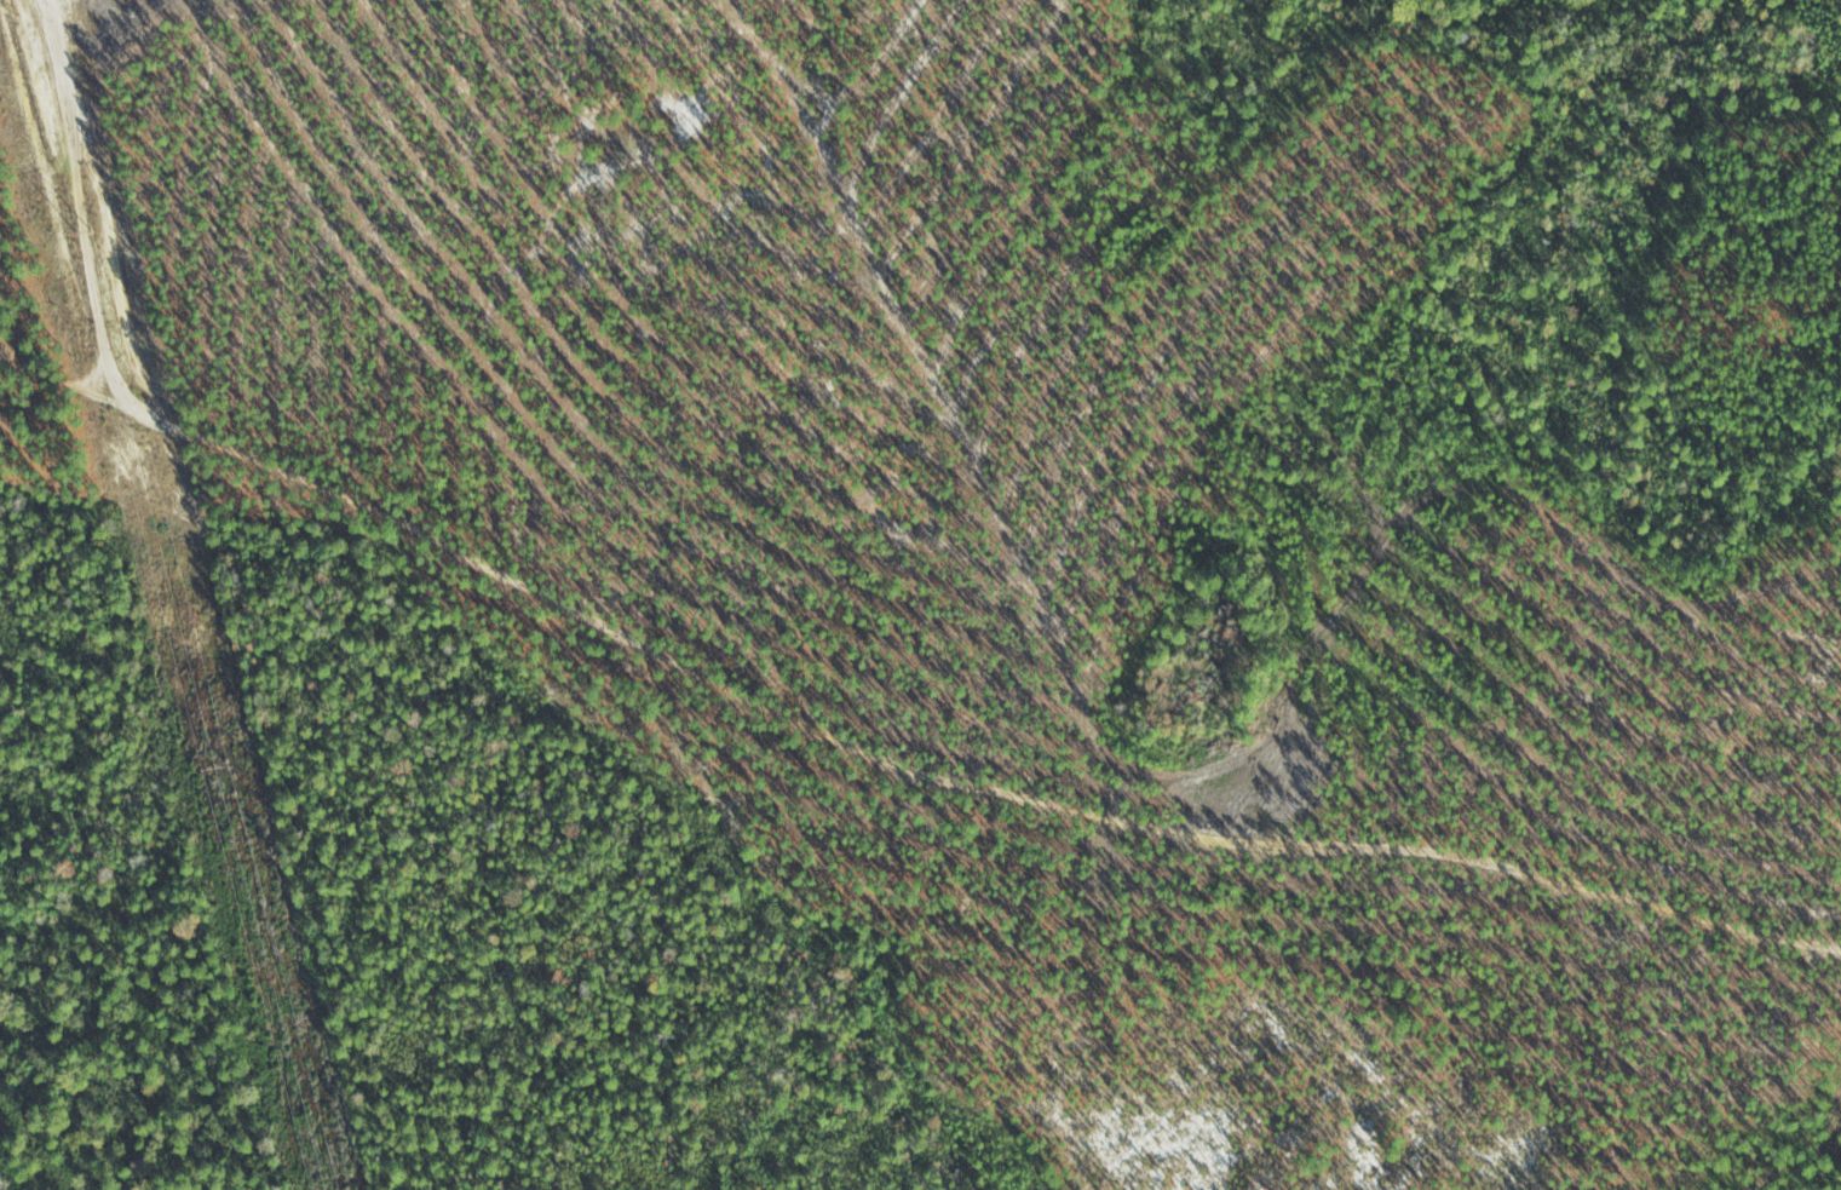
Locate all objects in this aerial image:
power tower: (84, 231)
road: (881, 690)

